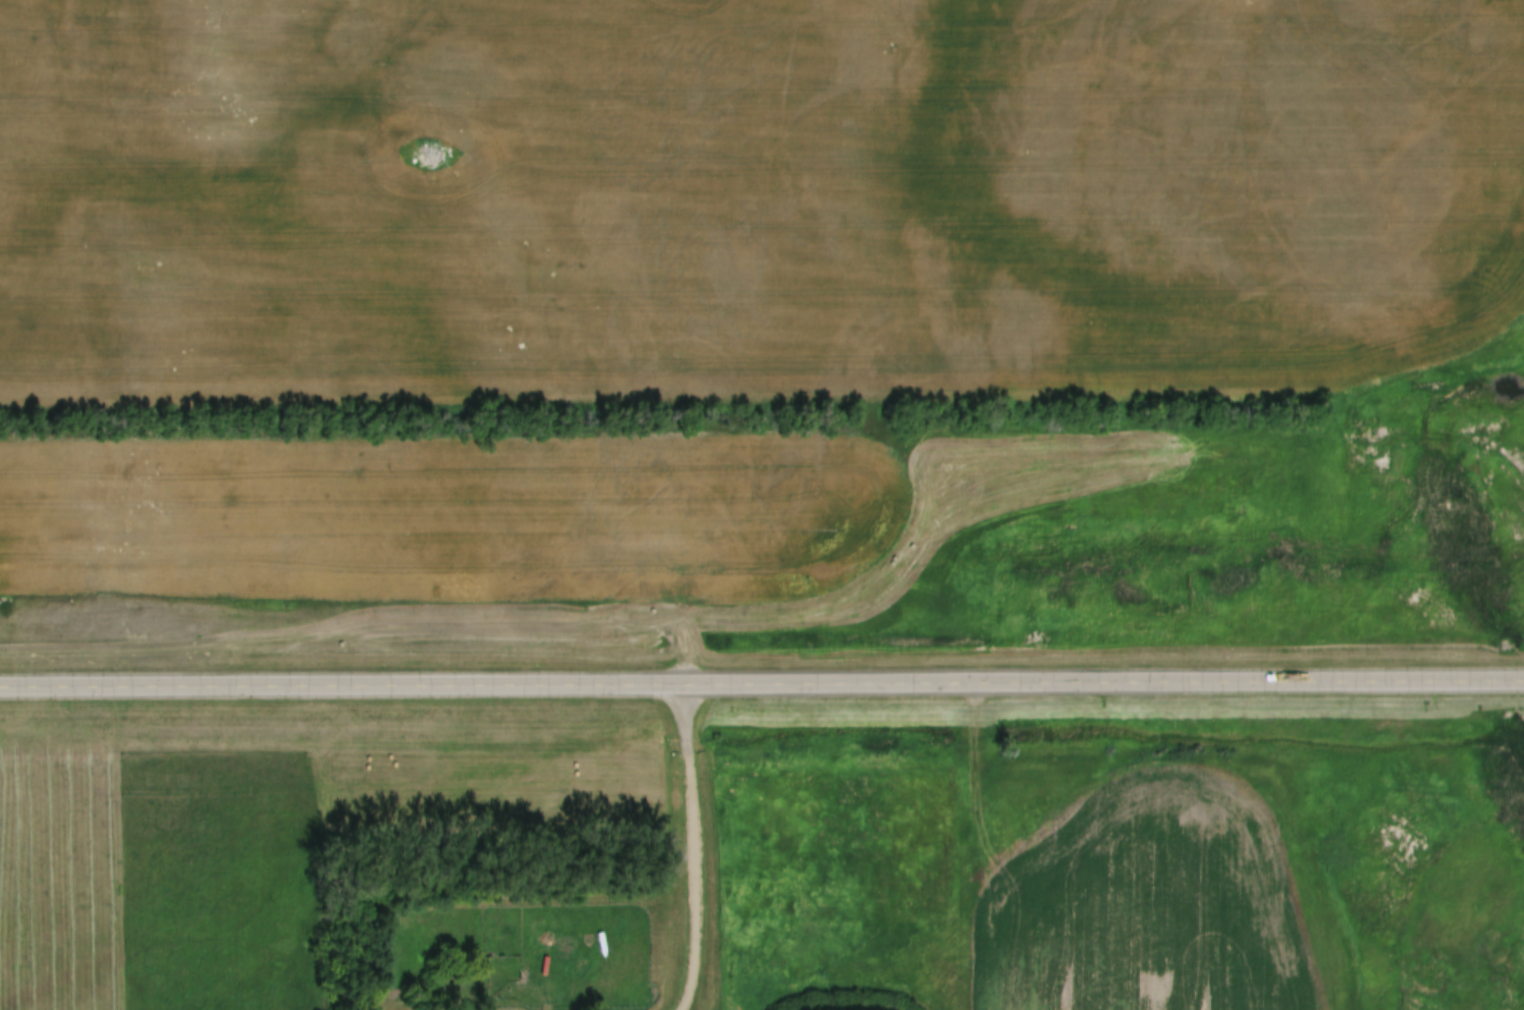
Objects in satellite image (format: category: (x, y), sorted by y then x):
road: (761, 682)
road: (697, 847)

